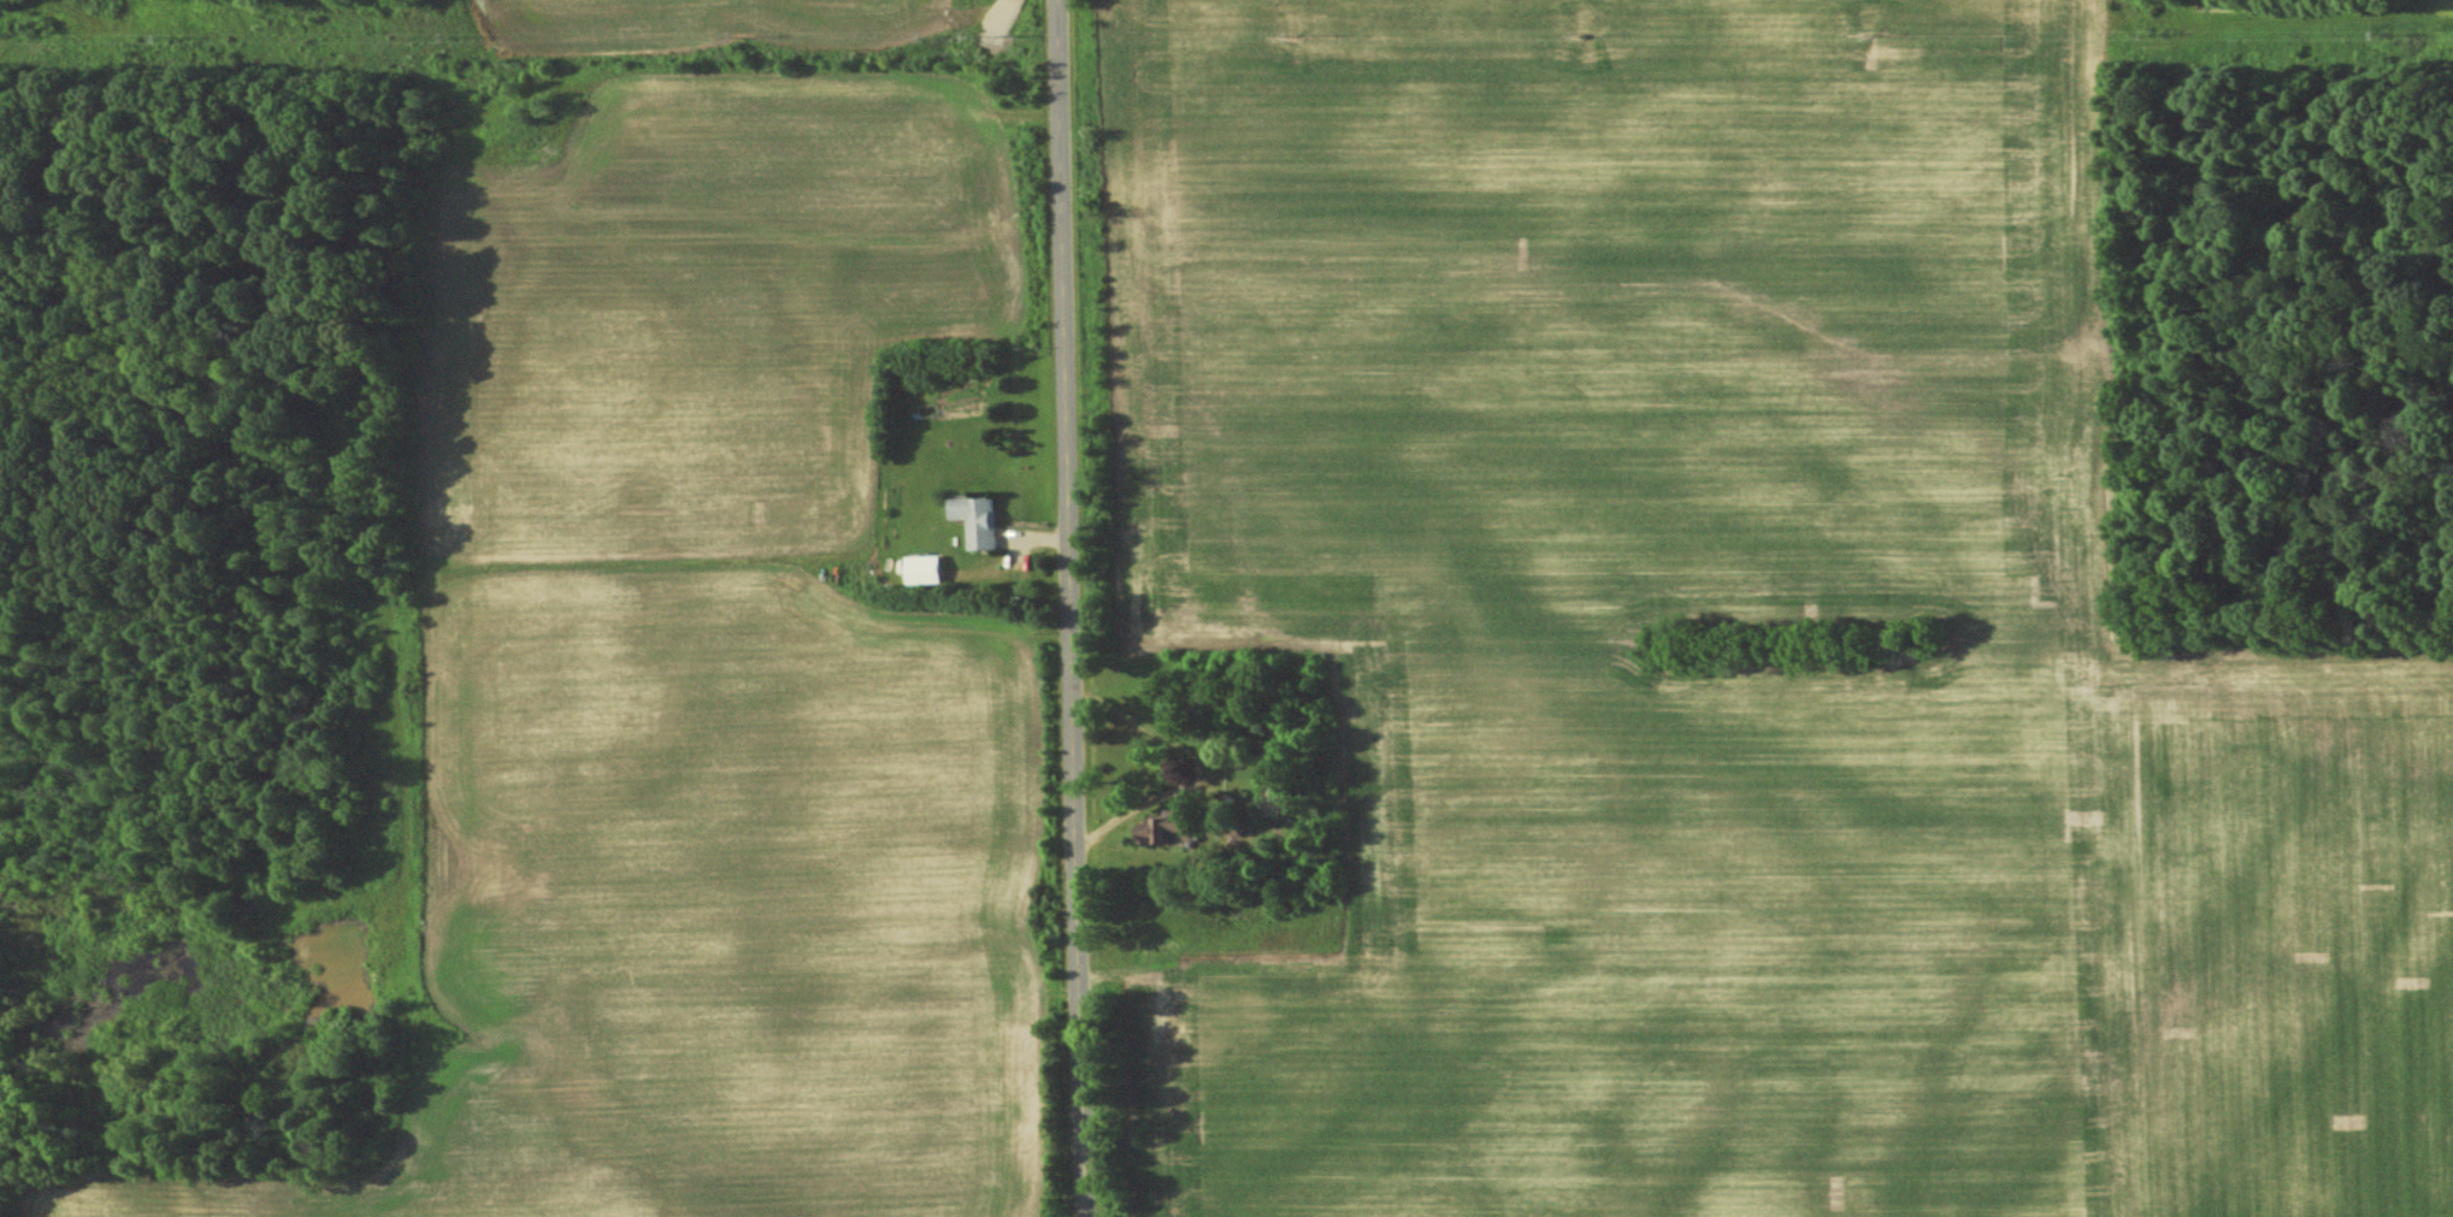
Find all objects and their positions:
building: (980, 520)
building: (926, 569)
road: (1069, 608)
building: (1177, 828)

